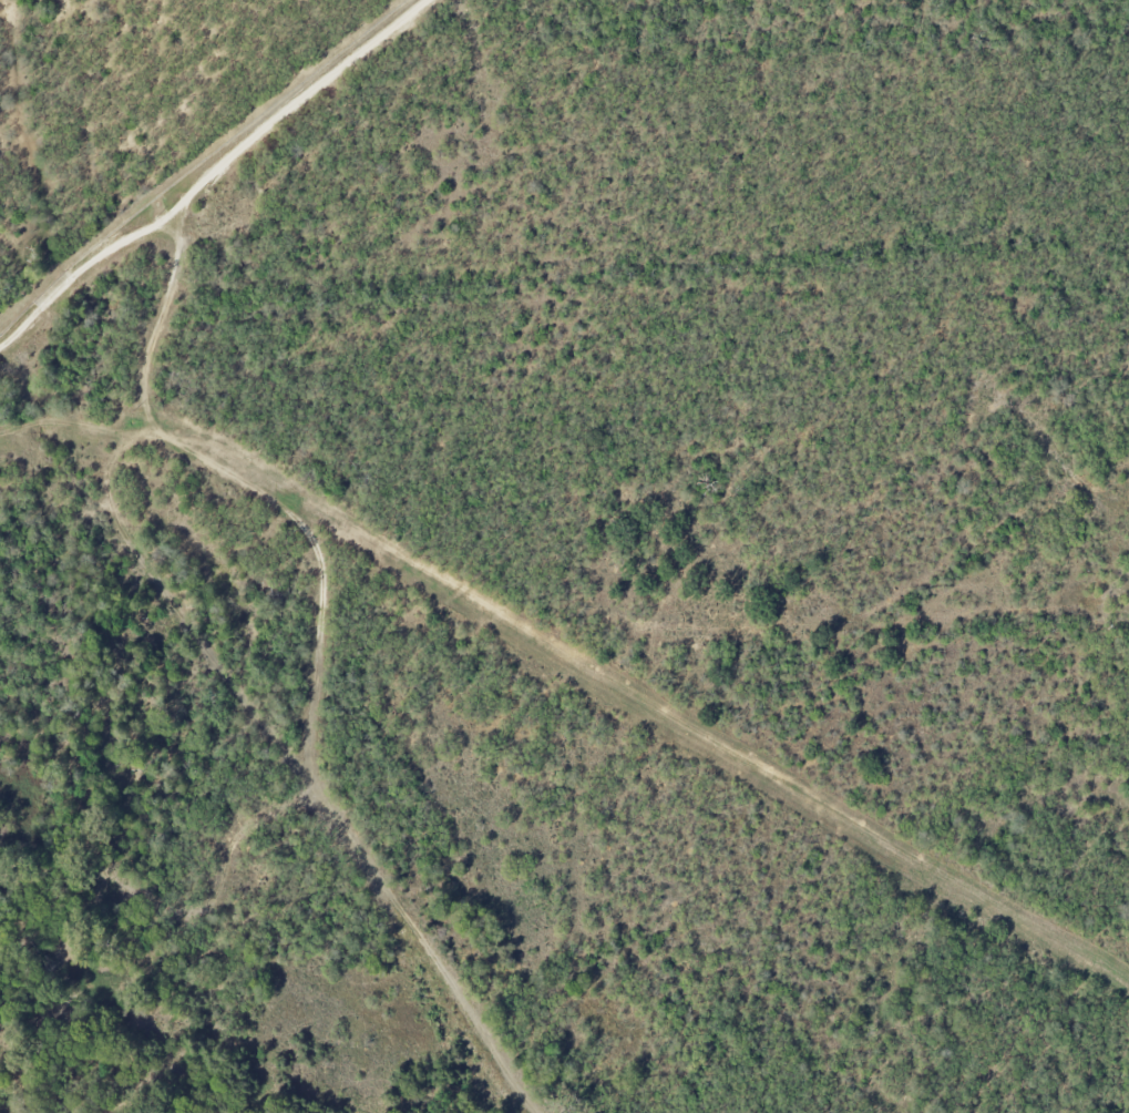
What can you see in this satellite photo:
road: (212, 174)
road: (317, 651)
road: (576, 657)

